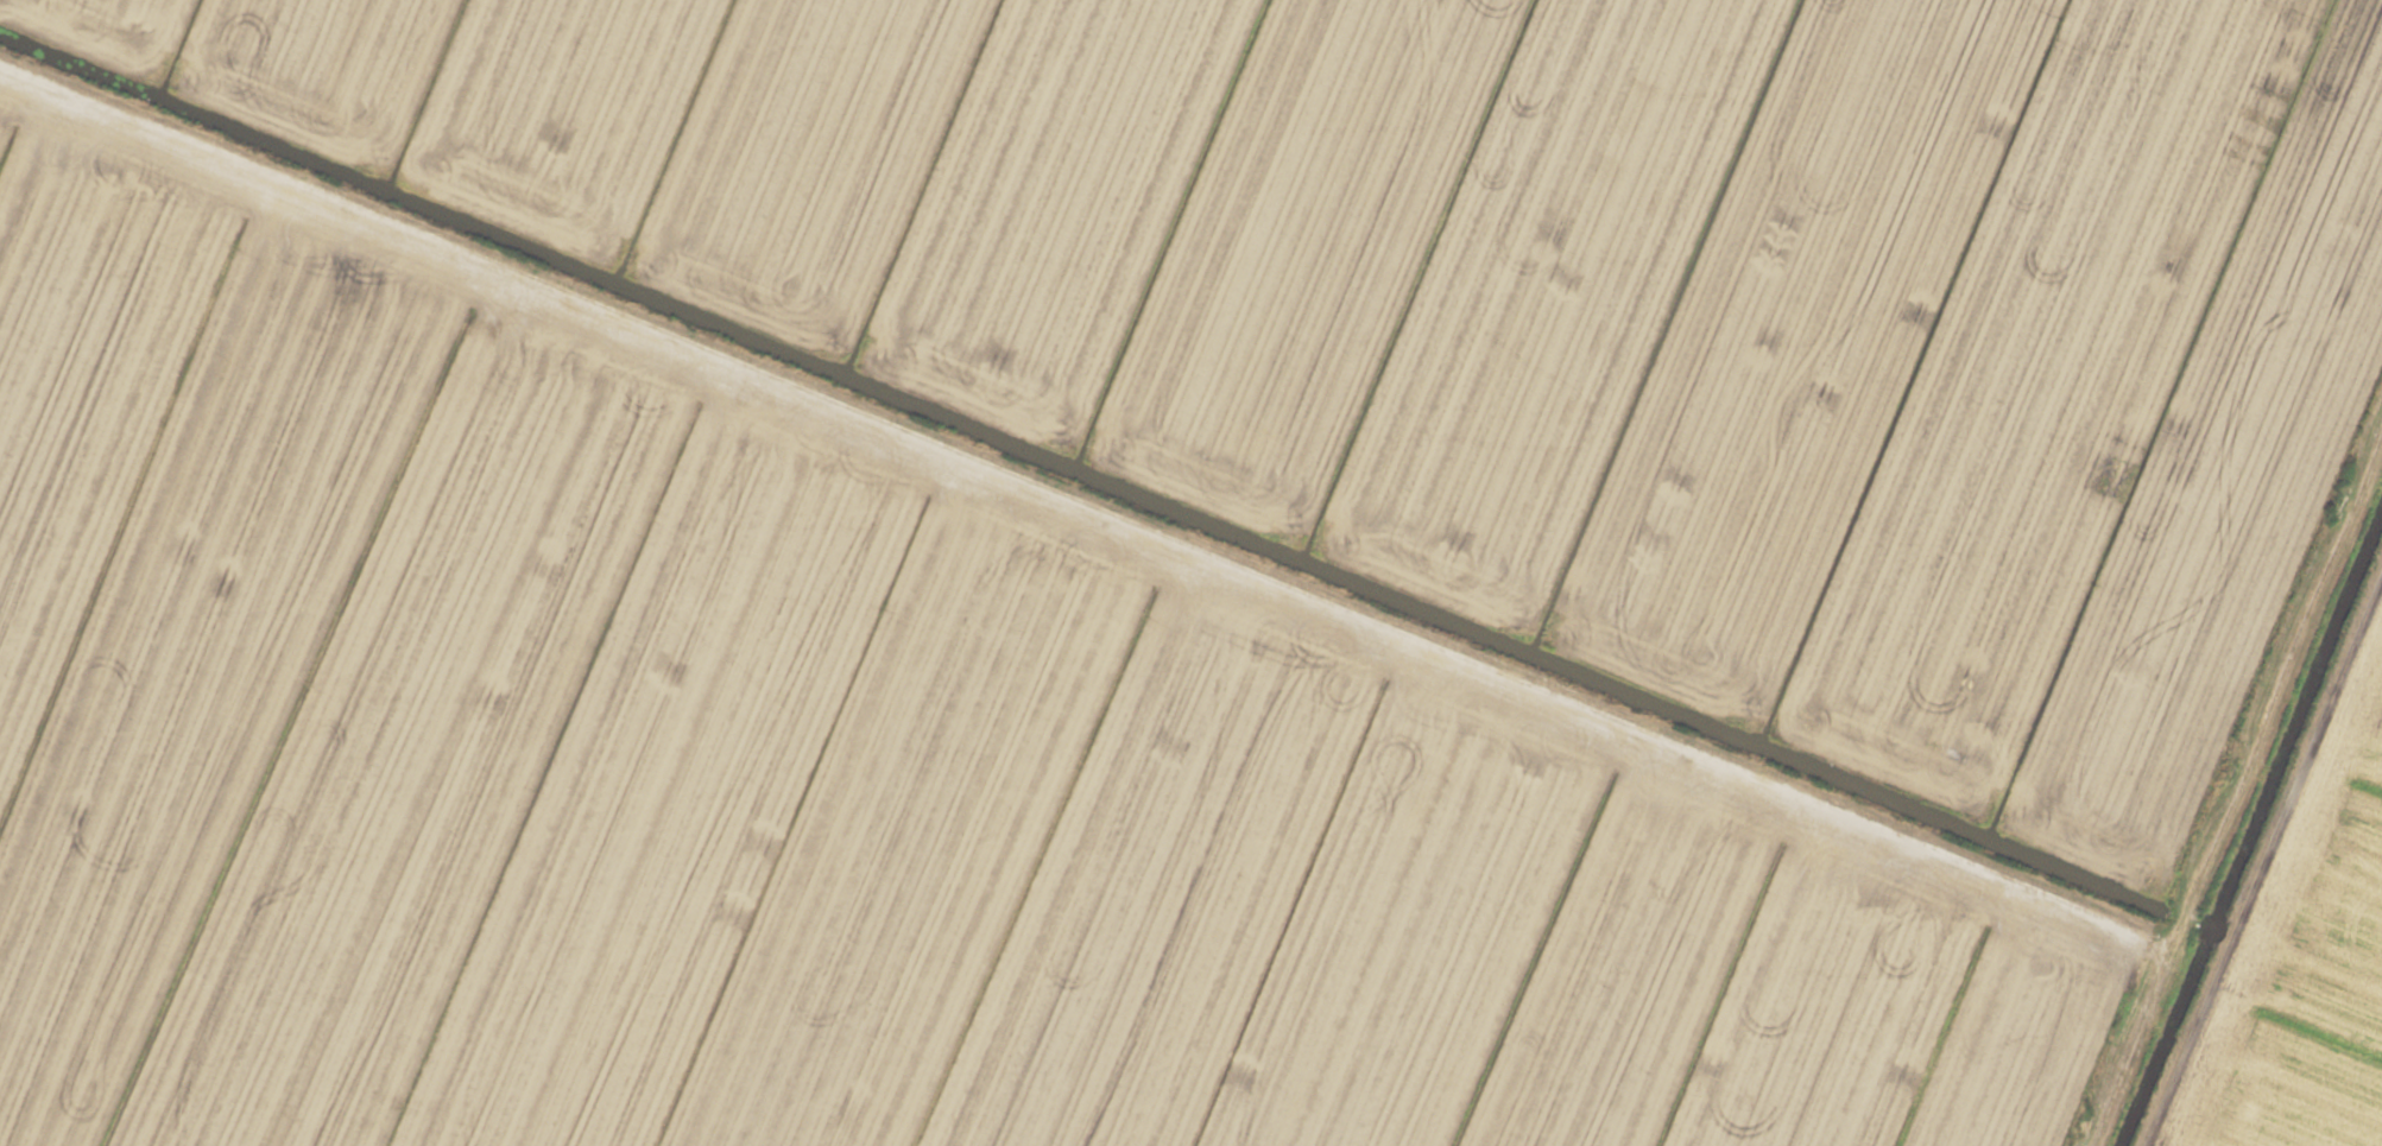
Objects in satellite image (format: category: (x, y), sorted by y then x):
road: (1074, 496)
crop: (1190, 572)
road: (2225, 778)

